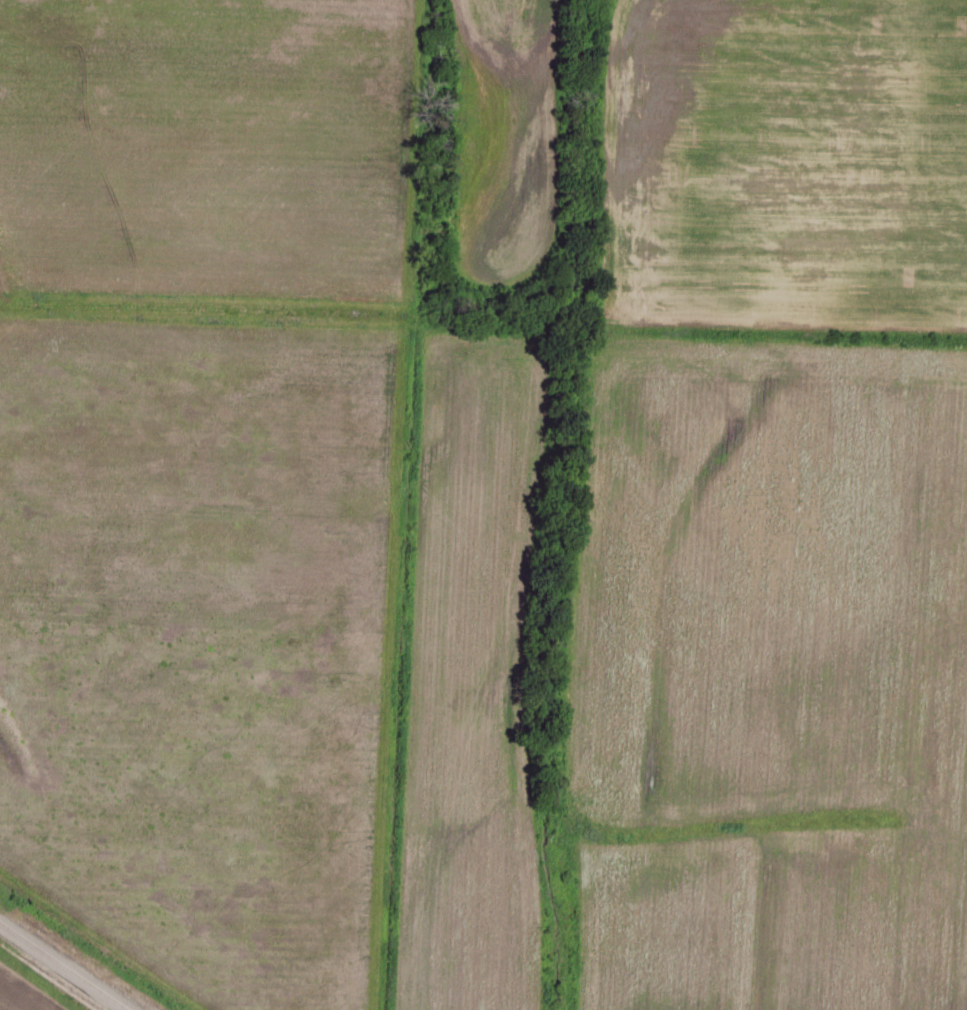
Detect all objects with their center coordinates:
railway: (63, 966)

